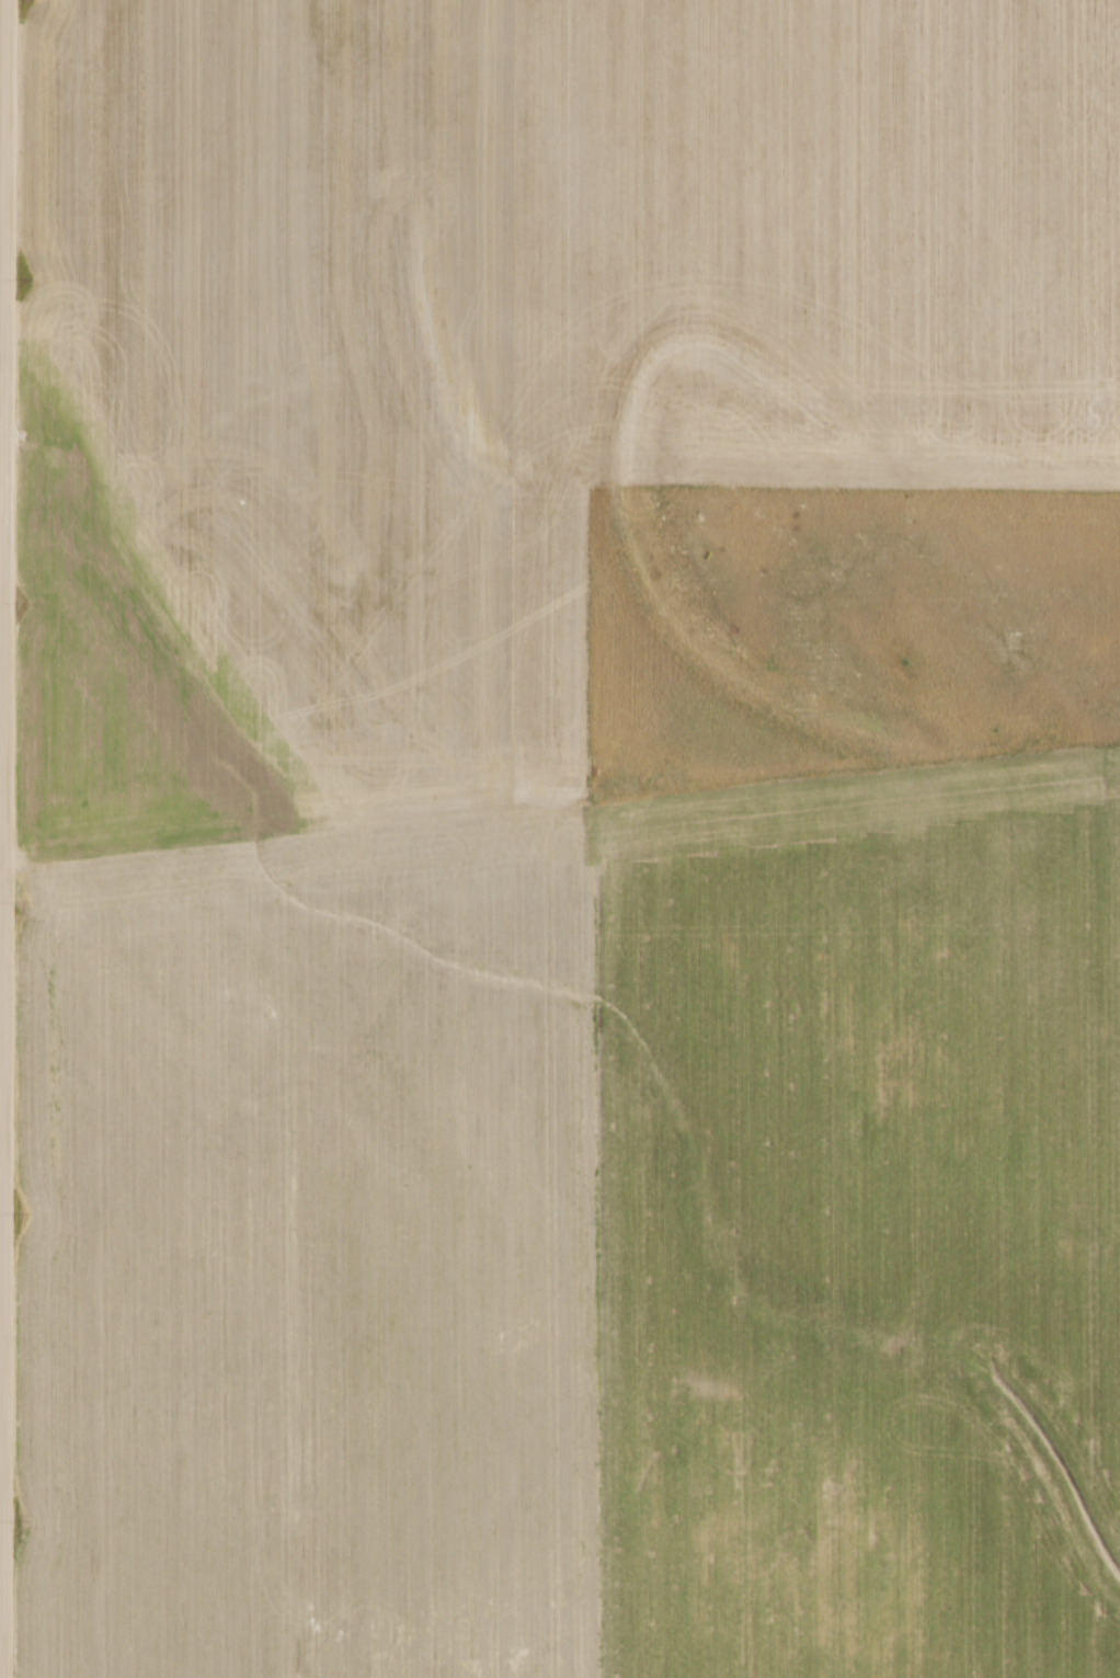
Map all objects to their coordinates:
road: (2, 605)

